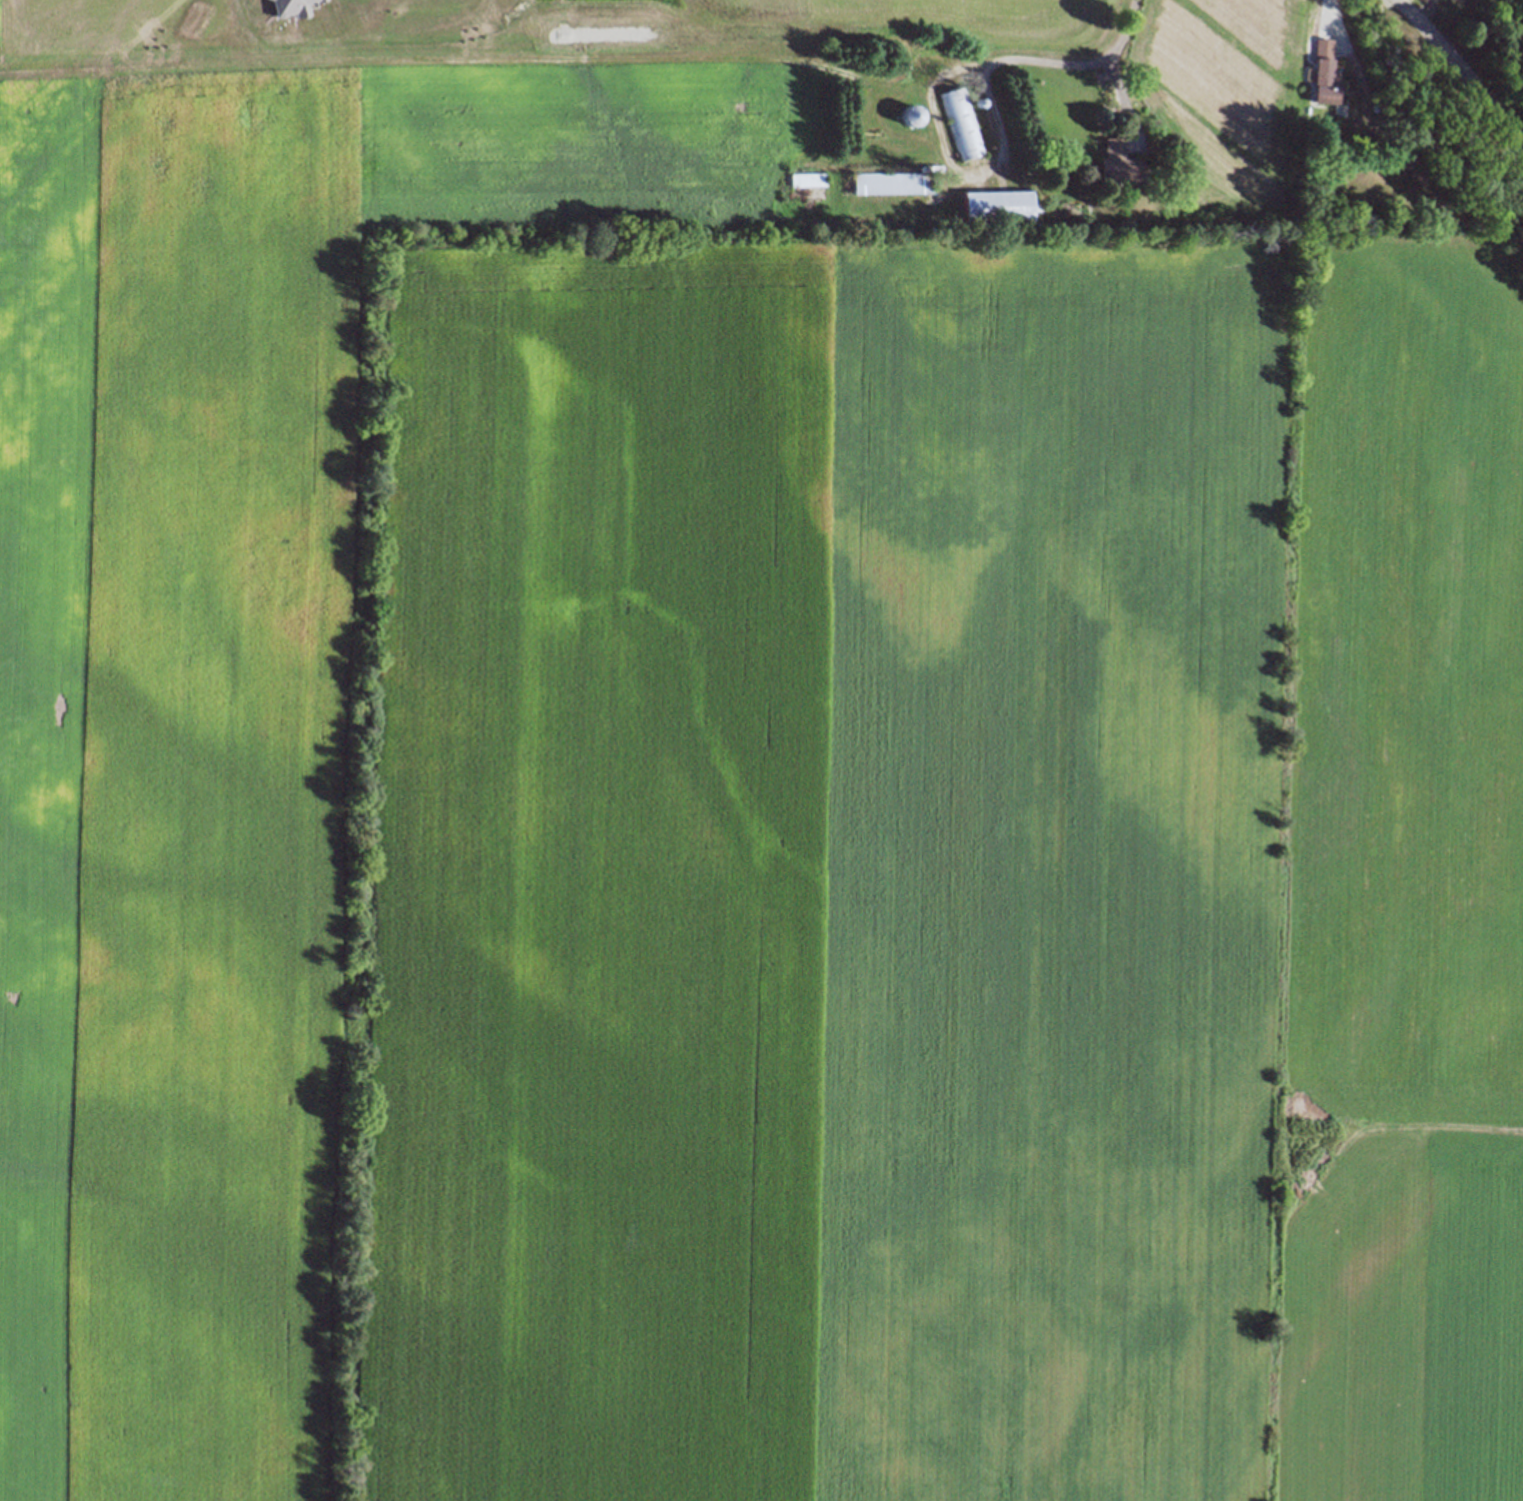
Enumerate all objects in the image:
road: (1080, 64)
road: (1461, 71)
building: (1320, 72)
building: (914, 116)
building: (961, 124)
building: (1119, 164)
road: (952, 166)
building: (806, 178)
building: (891, 183)
building: (996, 205)
crop: (732, 792)

